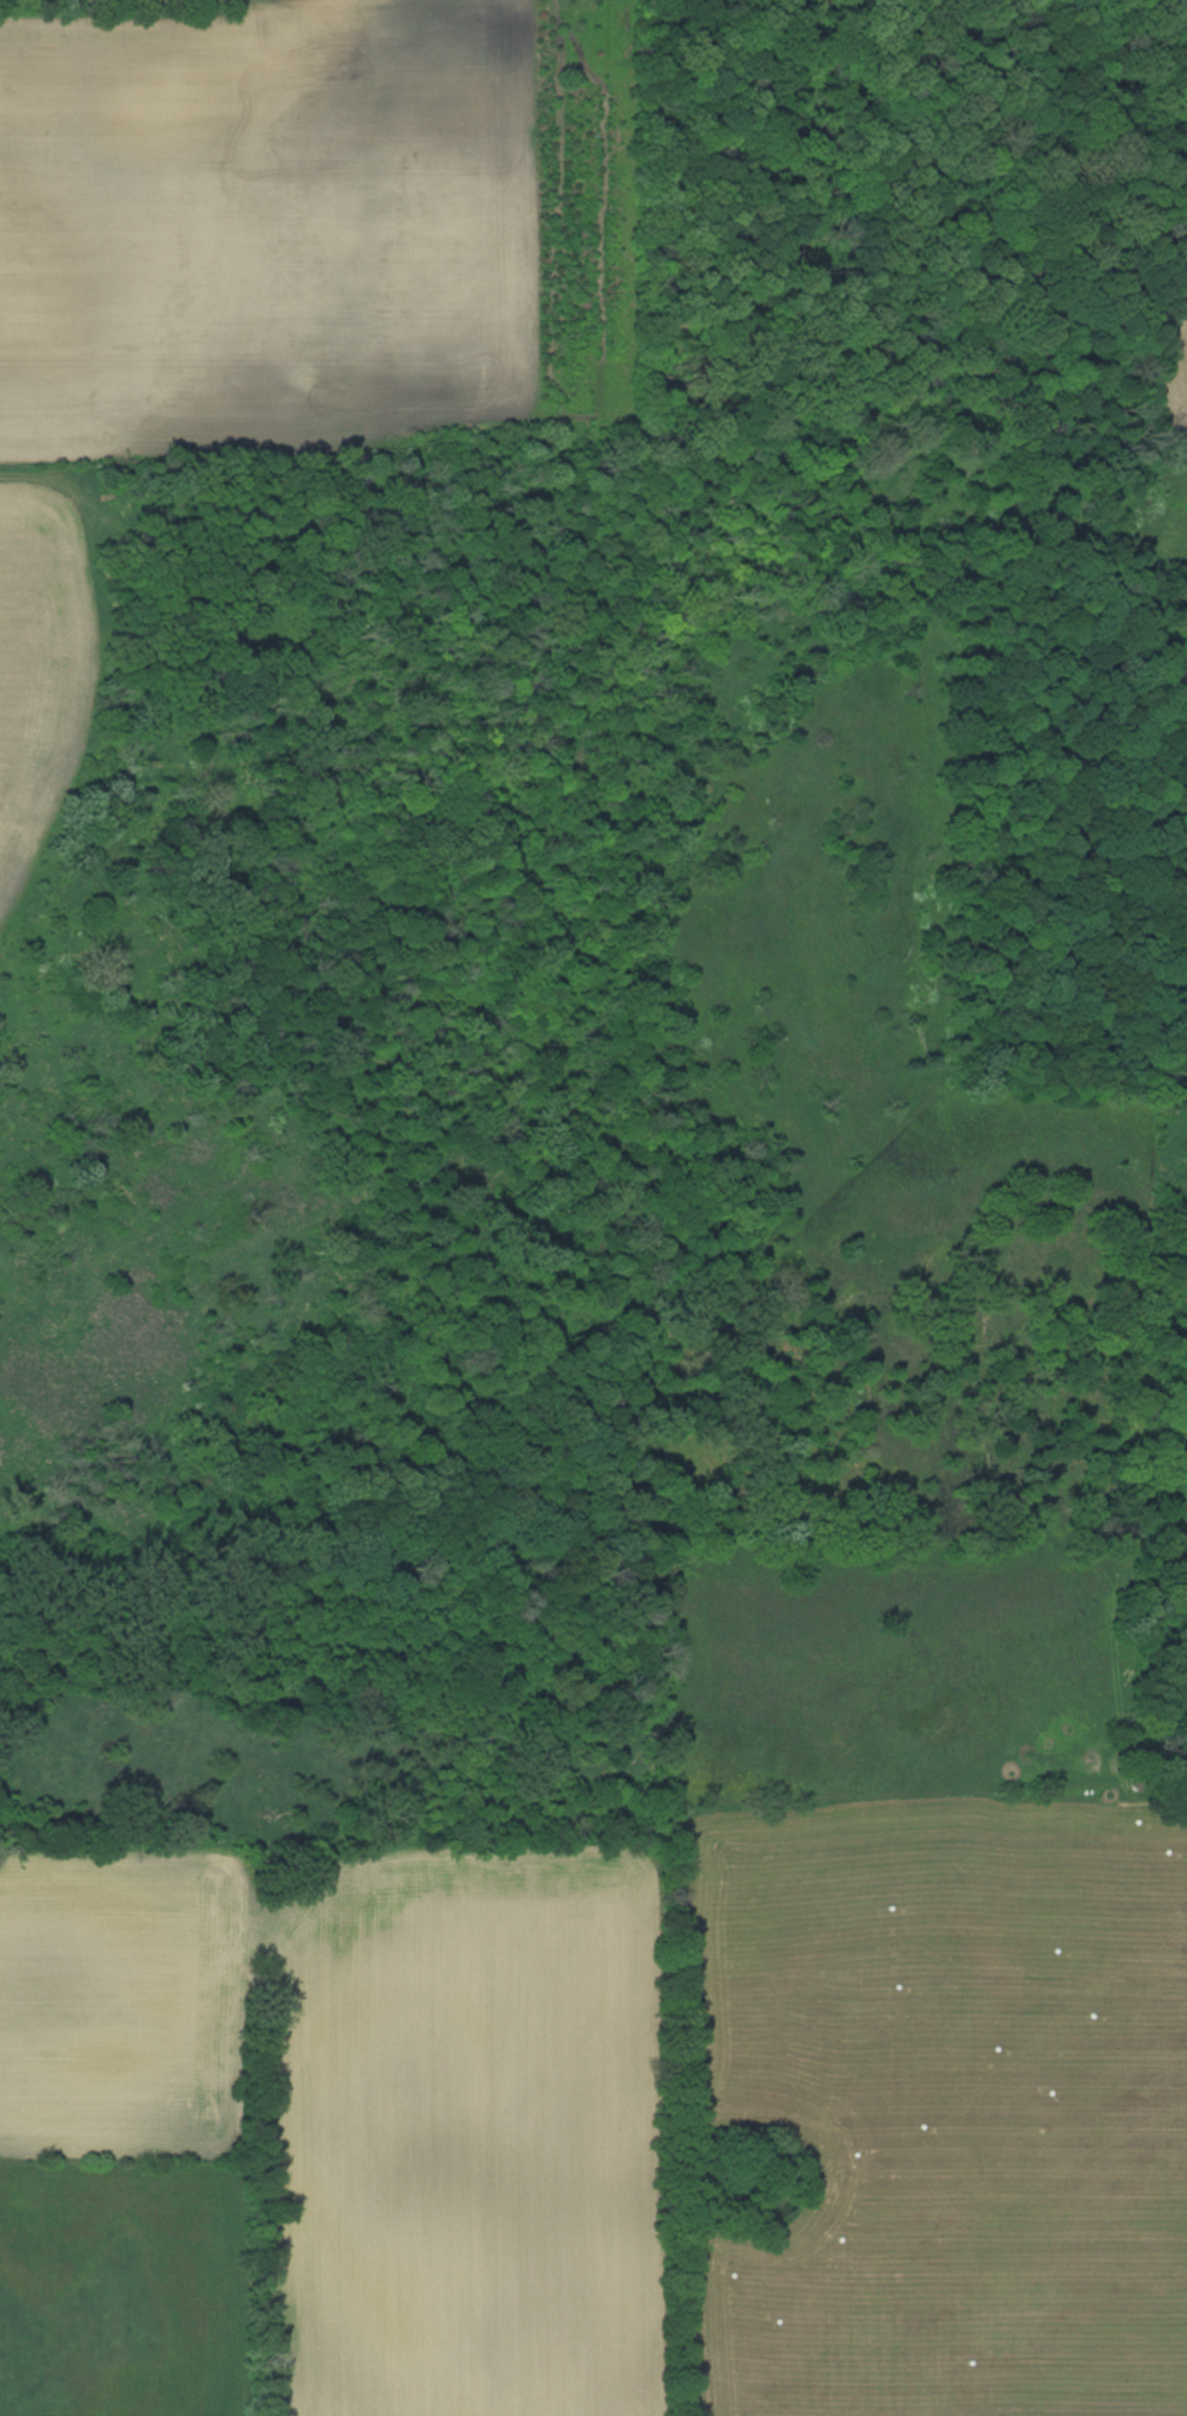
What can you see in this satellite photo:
road: (694, 2327)

